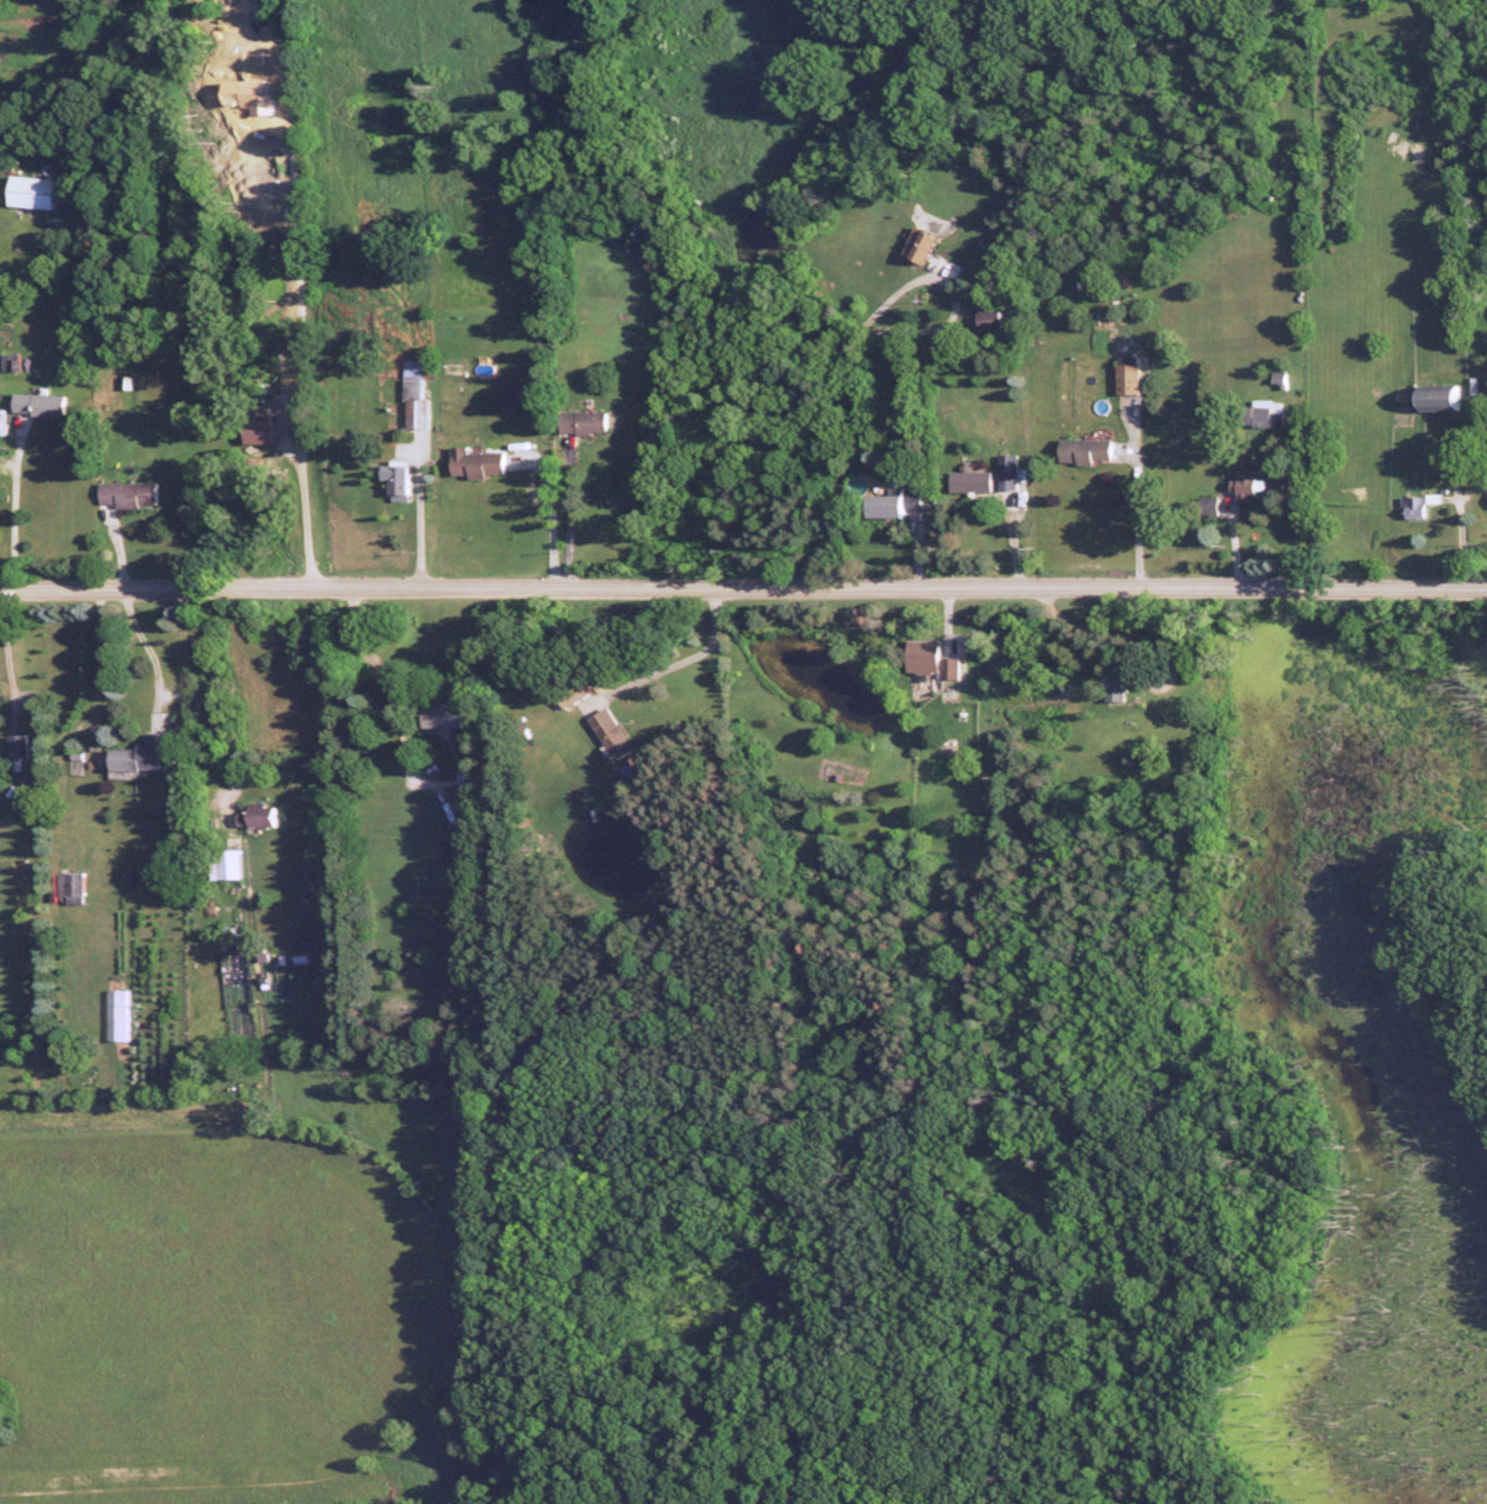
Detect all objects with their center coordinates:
building: (30, 192)
building: (917, 245)
building: (987, 319)
building: (450, 367)
building: (1125, 374)
building: (508, 394)
building: (413, 396)
building: (1435, 397)
building: (35, 404)
building: (1262, 413)
building: (580, 421)
building: (258, 444)
building: (1083, 450)
building: (473, 462)
building: (1005, 471)
building: (391, 480)
building: (968, 481)
building: (1247, 482)
building: (124, 495)
building: (886, 505)
building: (1206, 505)
road: (299, 506)
building: (1413, 507)
road: (7, 508)
road: (743, 588)
road: (682, 645)
building: (917, 656)
road: (210, 674)
building: (568, 693)
building: (442, 715)
building: (607, 733)
building: (16, 745)
building: (138, 754)
building: (252, 814)
building: (455, 844)
building: (222, 863)
building: (67, 884)

